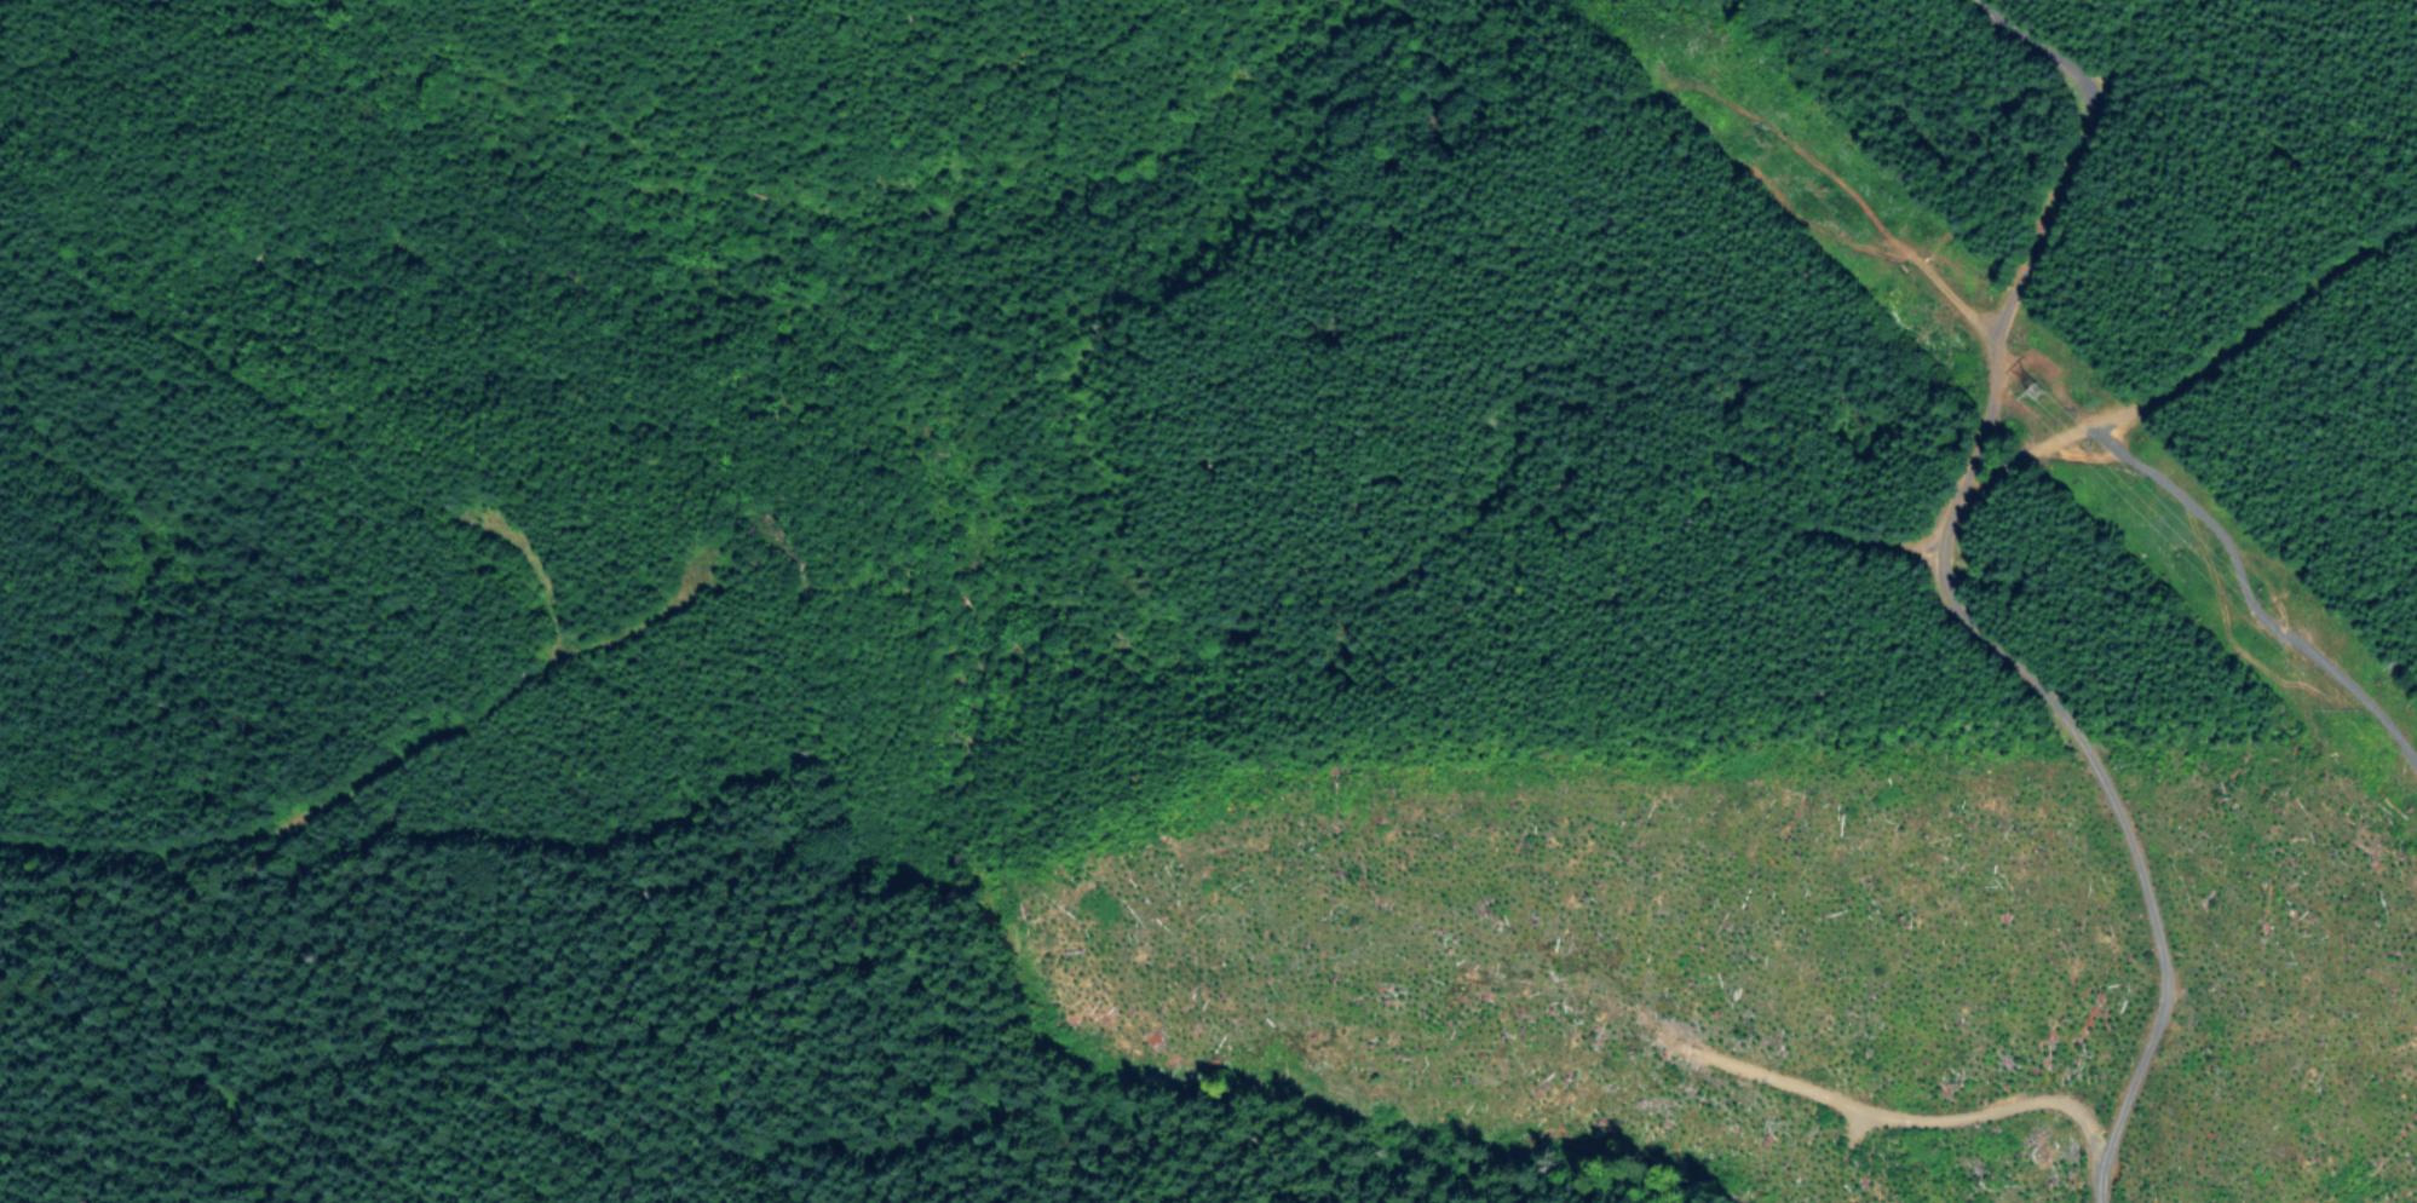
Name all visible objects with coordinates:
power tower: (2018, 380)
road: (2135, 403)
road: (2015, 668)

